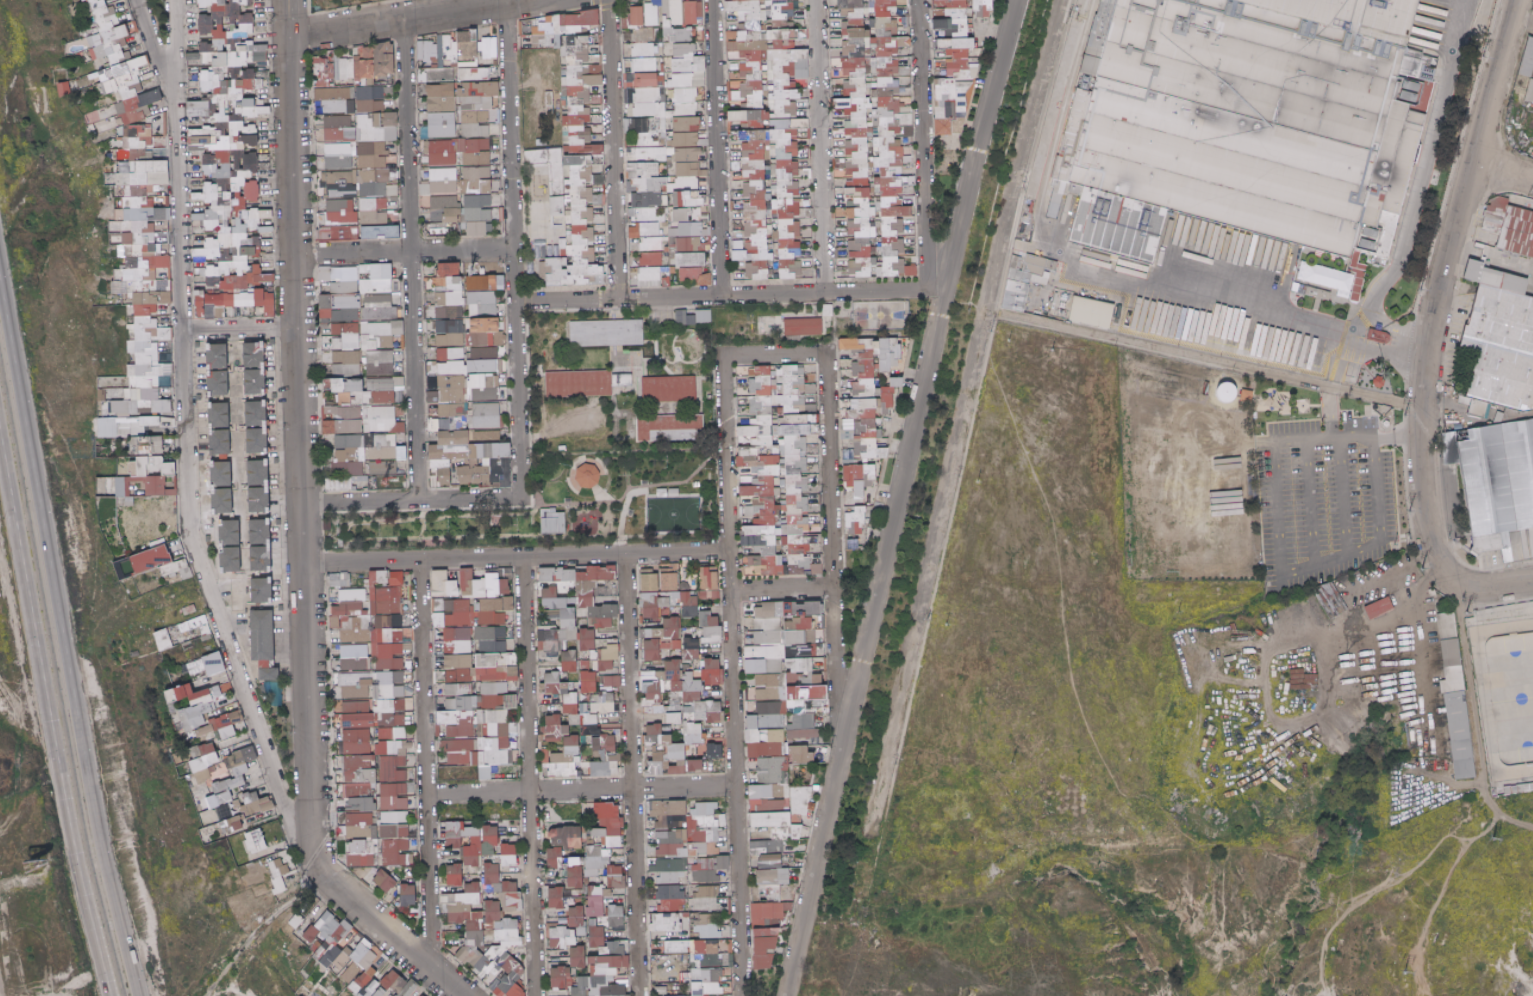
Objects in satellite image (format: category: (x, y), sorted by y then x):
park: (159, 23)
park: (942, 194)
park: (550, 510)

